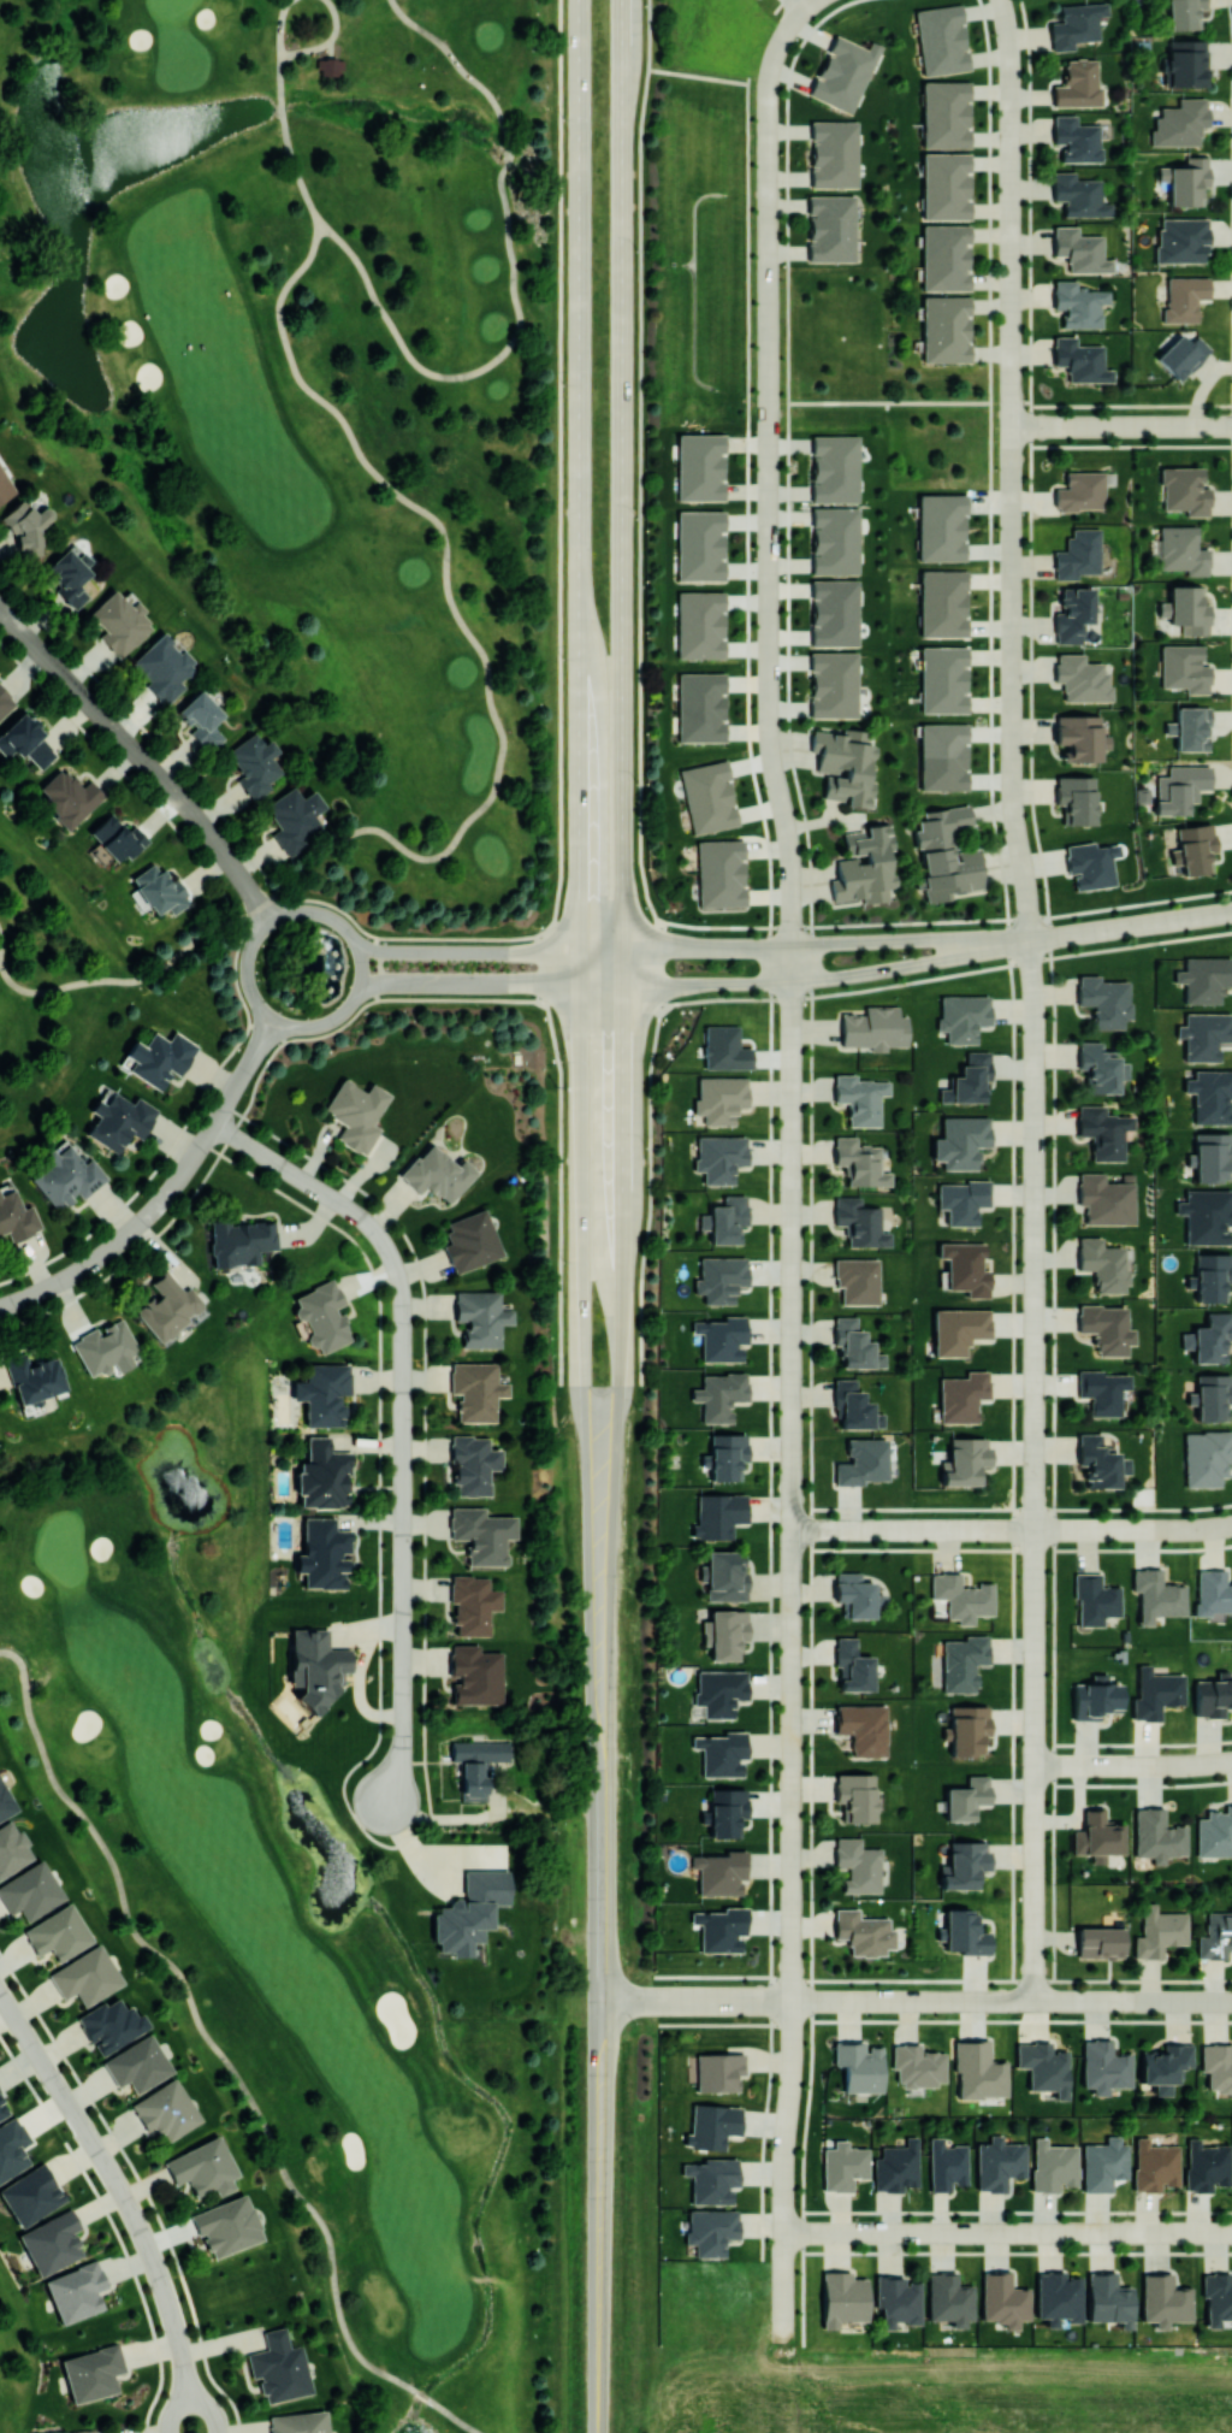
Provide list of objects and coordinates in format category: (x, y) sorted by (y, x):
road: (801, 2)
road: (776, 4)
building: (1183, 13)
building: (1076, 24)
road: (781, 34)
road: (1008, 37)
building: (941, 39)
road: (297, 52)
building: (1185, 63)
building: (330, 69)
road: (464, 70)
building: (843, 72)
road: (698, 75)
building: (1078, 84)
building: (944, 113)
building: (1180, 122)
building: (1076, 138)
road: (286, 141)
building: (833, 153)
road: (508, 165)
road: (766, 172)
building: (1187, 182)
building: (944, 185)
building: (1078, 195)
road: (1011, 223)
building: (830, 228)
building: (1181, 240)
building: (1079, 249)
building: (944, 256)
park: (759, 270)
building: (1184, 297)
building: (1078, 303)
building: (944, 327)
building: (1180, 354)
building: (1079, 360)
road: (466, 374)
road: (1021, 400)
road: (887, 401)
road: (1131, 404)
road: (1121, 426)
road: (1012, 427)
park: (301, 441)
road: (1131, 445)
building: (699, 466)
building: (834, 467)
building: (5, 485)
building: (1184, 490)
road: (579, 491)
building: (1080, 491)
road: (768, 496)
building: (941, 526)
building: (26, 527)
building: (834, 539)
building: (699, 544)
building: (1181, 550)
building: (1078, 554)
building: (67, 578)
building: (942, 602)
building: (1187, 610)
road: (457, 612)
building: (834, 612)
building: (119, 622)
road: (622, 622)
building: (699, 624)
road: (1012, 640)
building: (162, 666)
building: (1184, 668)
building: (1082, 678)
building: (942, 679)
building: (833, 684)
road: (558, 697)
road: (639, 697)
building: (5, 701)
building: (700, 705)
building: (200, 719)
park: (136, 724)
building: (1191, 727)
building: (1078, 737)
building: (26, 742)
building: (942, 756)
road: (142, 757)
building: (254, 763)
building: (843, 766)
building: (1179, 787)
building: (707, 796)
building: (67, 797)
building: (1076, 798)
building: (295, 817)
road: (789, 835)
building: (115, 838)
building: (1195, 848)
building: (946, 852)
building: (1090, 863)
building: (864, 864)
road: (1021, 866)
building: (719, 872)
building: (159, 890)
road: (261, 908)
road: (1195, 916)
road: (948, 919)
road: (1094, 931)
road: (975, 939)
road: (913, 940)
road: (847, 943)
road: (738, 949)
road: (514, 952)
road: (870, 970)
road: (947, 974)
building: (1204, 978)
road: (109, 980)
road: (528, 982)
road: (1011, 988)
road: (1052, 988)
building: (1103, 999)
road: (334, 1016)
building: (961, 1016)
building: (873, 1028)
park: (654, 1031)
building: (1204, 1034)
building: (723, 1047)
building: (159, 1057)
building: (1098, 1067)
building: (969, 1079)
building: (1209, 1096)
building: (719, 1098)
building: (859, 1098)
building: (356, 1112)
building: (119, 1120)
building: (1102, 1130)
building: (960, 1141)
road: (810, 1155)
building: (1212, 1156)
building: (718, 1157)
building: (859, 1161)
road: (769, 1167)
building: (437, 1173)
building: (66, 1175)
road: (167, 1192)
building: (1104, 1199)
building: (962, 1200)
building: (1206, 1215)
building: (16, 1217)
building: (727, 1218)
building: (859, 1222)
building: (470, 1240)
building: (239, 1241)
building: (1101, 1263)
building: (965, 1268)
building: (1212, 1276)
building: (719, 1278)
building: (857, 1280)
building: (167, 1306)
building: (322, 1315)
building: (480, 1317)
building: (1104, 1328)
building: (958, 1329)
building: (722, 1337)
building: (1212, 1337)
building: (854, 1344)
building: (105, 1347)
building: (35, 1377)
road: (585, 1383)
building: (475, 1389)
building: (1102, 1390)
building: (324, 1393)
building: (718, 1394)
building: (961, 1395)
building: (1212, 1395)
building: (854, 1407)
road: (403, 1417)
building: (725, 1455)
building: (1206, 1457)
building: (965, 1460)
building: (860, 1461)
building: (1097, 1461)
building: (472, 1464)
road: (1033, 1469)
road: (792, 1472)
building: (322, 1475)
road: (611, 1513)
building: (717, 1514)
road: (1192, 1526)
road: (960, 1529)
road: (1141, 1529)
building: (481, 1534)
building: (322, 1553)
building: (725, 1575)
building: (1231, 1585)
building: (1212, 1592)
building: (854, 1593)
building: (1155, 1594)
building: (961, 1596)
building: (1094, 1599)
building: (473, 1605)
building: (727, 1632)
building: (962, 1661)
building: (852, 1665)
building: (316, 1666)
building: (475, 1675)
building: (718, 1691)
building: (1155, 1693)
building: (1213, 1696)
building: (1095, 1697)
building: (1231, 1702)
building: (863, 1728)
building: (969, 1729)
building: (721, 1753)
road: (1133, 1764)
building: (476, 1765)
building: (854, 1795)
building: (966, 1797)
building: (5, 1802)
building: (725, 1811)
building: (1231, 1813)
building: (1214, 1832)
building: (1097, 1835)
building: (1157, 1835)
building: (12, 1848)
building: (964, 1864)
building: (858, 1865)
building: (719, 1871)
building: (30, 1891)
road: (602, 1891)
building: (470, 1912)
park: (302, 1925)
building: (719, 1927)
building: (1159, 1931)
building: (57, 1932)
building: (863, 1932)
building: (964, 1932)
building: (1215, 1935)
building: (1100, 1942)
building: (1231, 1942)
building: (85, 1976)
road: (942, 1979)
road: (627, 2000)
road: (656, 2000)
road: (724, 2000)
road: (1011, 2000)
road: (602, 2009)
road: (1021, 2020)
road: (199, 2021)
road: (722, 2022)
building: (111, 2024)
road: (790, 2055)
building: (137, 2063)
building: (917, 2065)
building: (1215, 2065)
building: (858, 2066)
building: (1103, 2066)
building: (1163, 2066)
building: (1231, 2066)
building: (1043, 2067)
building: (717, 2071)
building: (978, 2071)
building: (2, 2109)
building: (165, 2109)
building: (711, 2125)
building: (12, 2146)
building: (997, 2162)
building: (946, 2163)
building: (1103, 2163)
building: (1053, 2165)
building: (1154, 2165)
building: (1206, 2165)
building: (842, 2166)
building: (896, 2166)
building: (202, 2167)
building: (711, 2179)
road: (782, 2185)
park: (132, 2186)
building: (30, 2193)
road: (125, 2199)
building: (226, 2225)
road: (599, 2225)
building: (710, 2230)
road: (1007, 2231)
building: (52, 2242)
building: (1231, 2289)
building: (76, 2290)
building: (1056, 2297)
building: (842, 2298)
building: (948, 2298)
building: (1216, 2298)
building: (896, 2299)
building: (1002, 2299)
building: (1108, 2299)
building: (1163, 2299)
road: (782, 2305)
park: (16, 2351)
building: (279, 2367)
building: (93, 2372)
park: (598, 2372)
road: (782, 2391)
road: (422, 2396)
road: (456, 2420)
building: (297, 2422)

